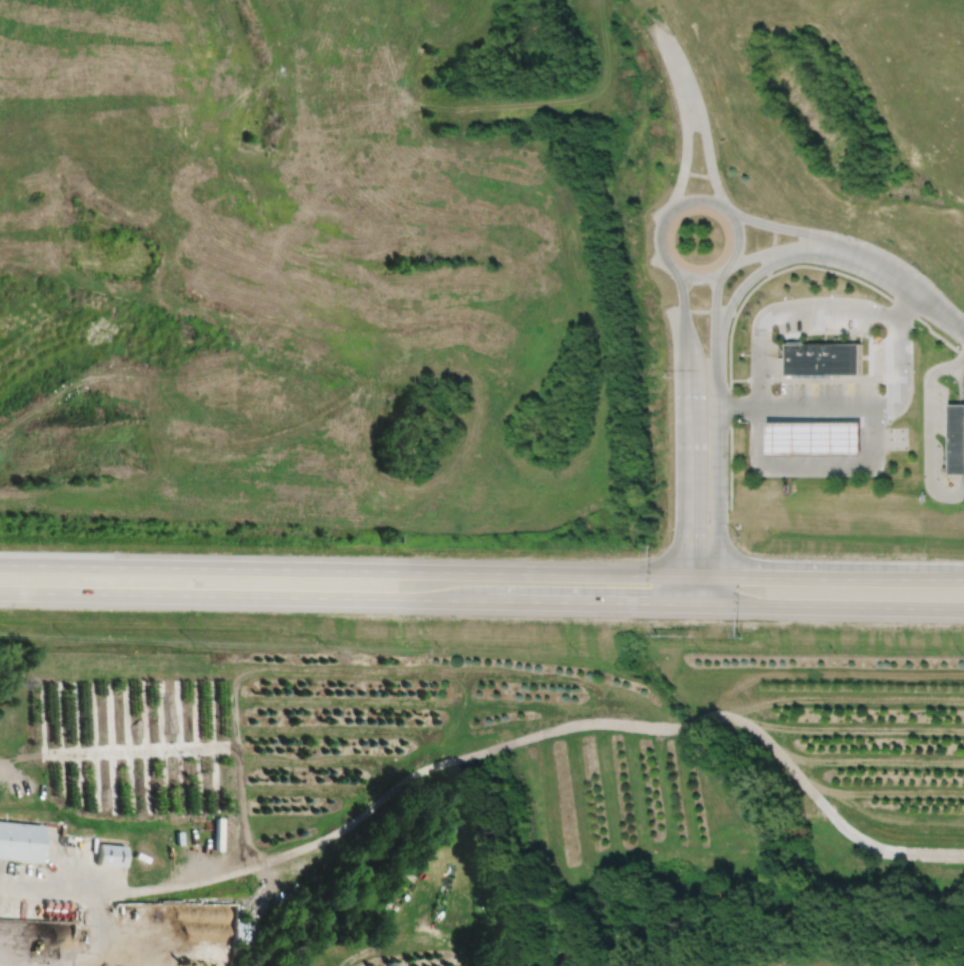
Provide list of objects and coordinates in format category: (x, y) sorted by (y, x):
street lamp: (674, 32)
road: (662, 35)
street lamp: (680, 126)
road: (704, 129)
road: (687, 137)
street lamp: (771, 218)
road: (663, 220)
road: (823, 239)
road: (822, 254)
street lamp: (825, 266)
street lamp: (920, 270)
road: (745, 282)
road: (680, 292)
street lamp: (838, 293)
street lamp: (792, 296)
road: (909, 302)
street lamp: (882, 303)
street lamp: (737, 304)
road: (787, 307)
road: (715, 310)
road: (937, 310)
road: (686, 344)
street lamp: (748, 353)
building: (824, 358)
street lamp: (913, 369)
street lamp: (670, 375)
road: (963, 379)
road: (730, 384)
road: (53, 399)
road: (852, 405)
street lamp: (746, 421)
street lamp: (890, 421)
building: (817, 439)
building: (957, 440)
road: (816, 463)
road: (689, 476)
road: (717, 478)
road: (963, 484)
road: (943, 494)
street lamp: (737, 536)
traffic signals: (689, 541)
street lamp: (651, 545)
road: (344, 569)
road: (702, 576)
traffic signals: (738, 576)
road: (835, 577)
road: (958, 579)
road: (688, 590)
road: (237, 595)
road: (581, 601)
traffic signals: (650, 603)
road: (702, 604)
road: (840, 606)
street lamp: (657, 633)
street lamp: (740, 637)
road: (827, 672)
road: (495, 747)
road: (138, 750)
road: (237, 776)
building: (20, 841)
building: (110, 855)
road: (100, 930)

